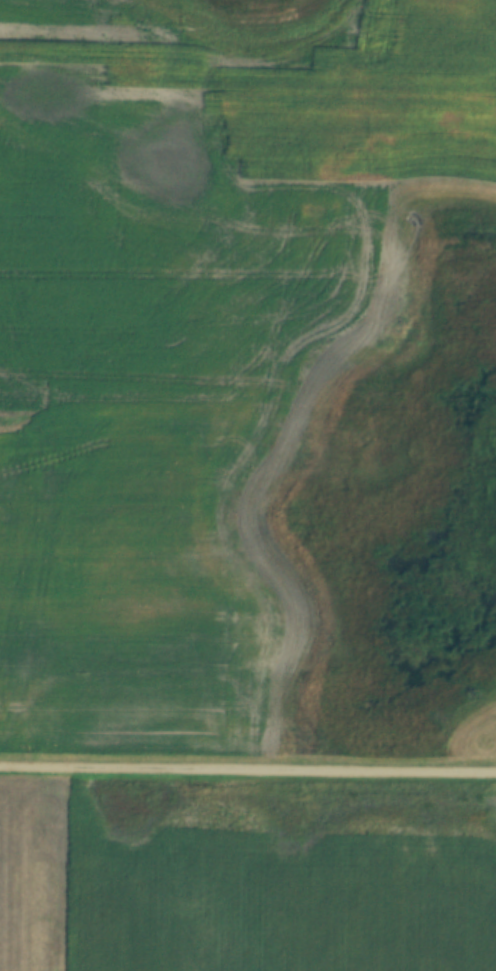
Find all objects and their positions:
road: (247, 772)

